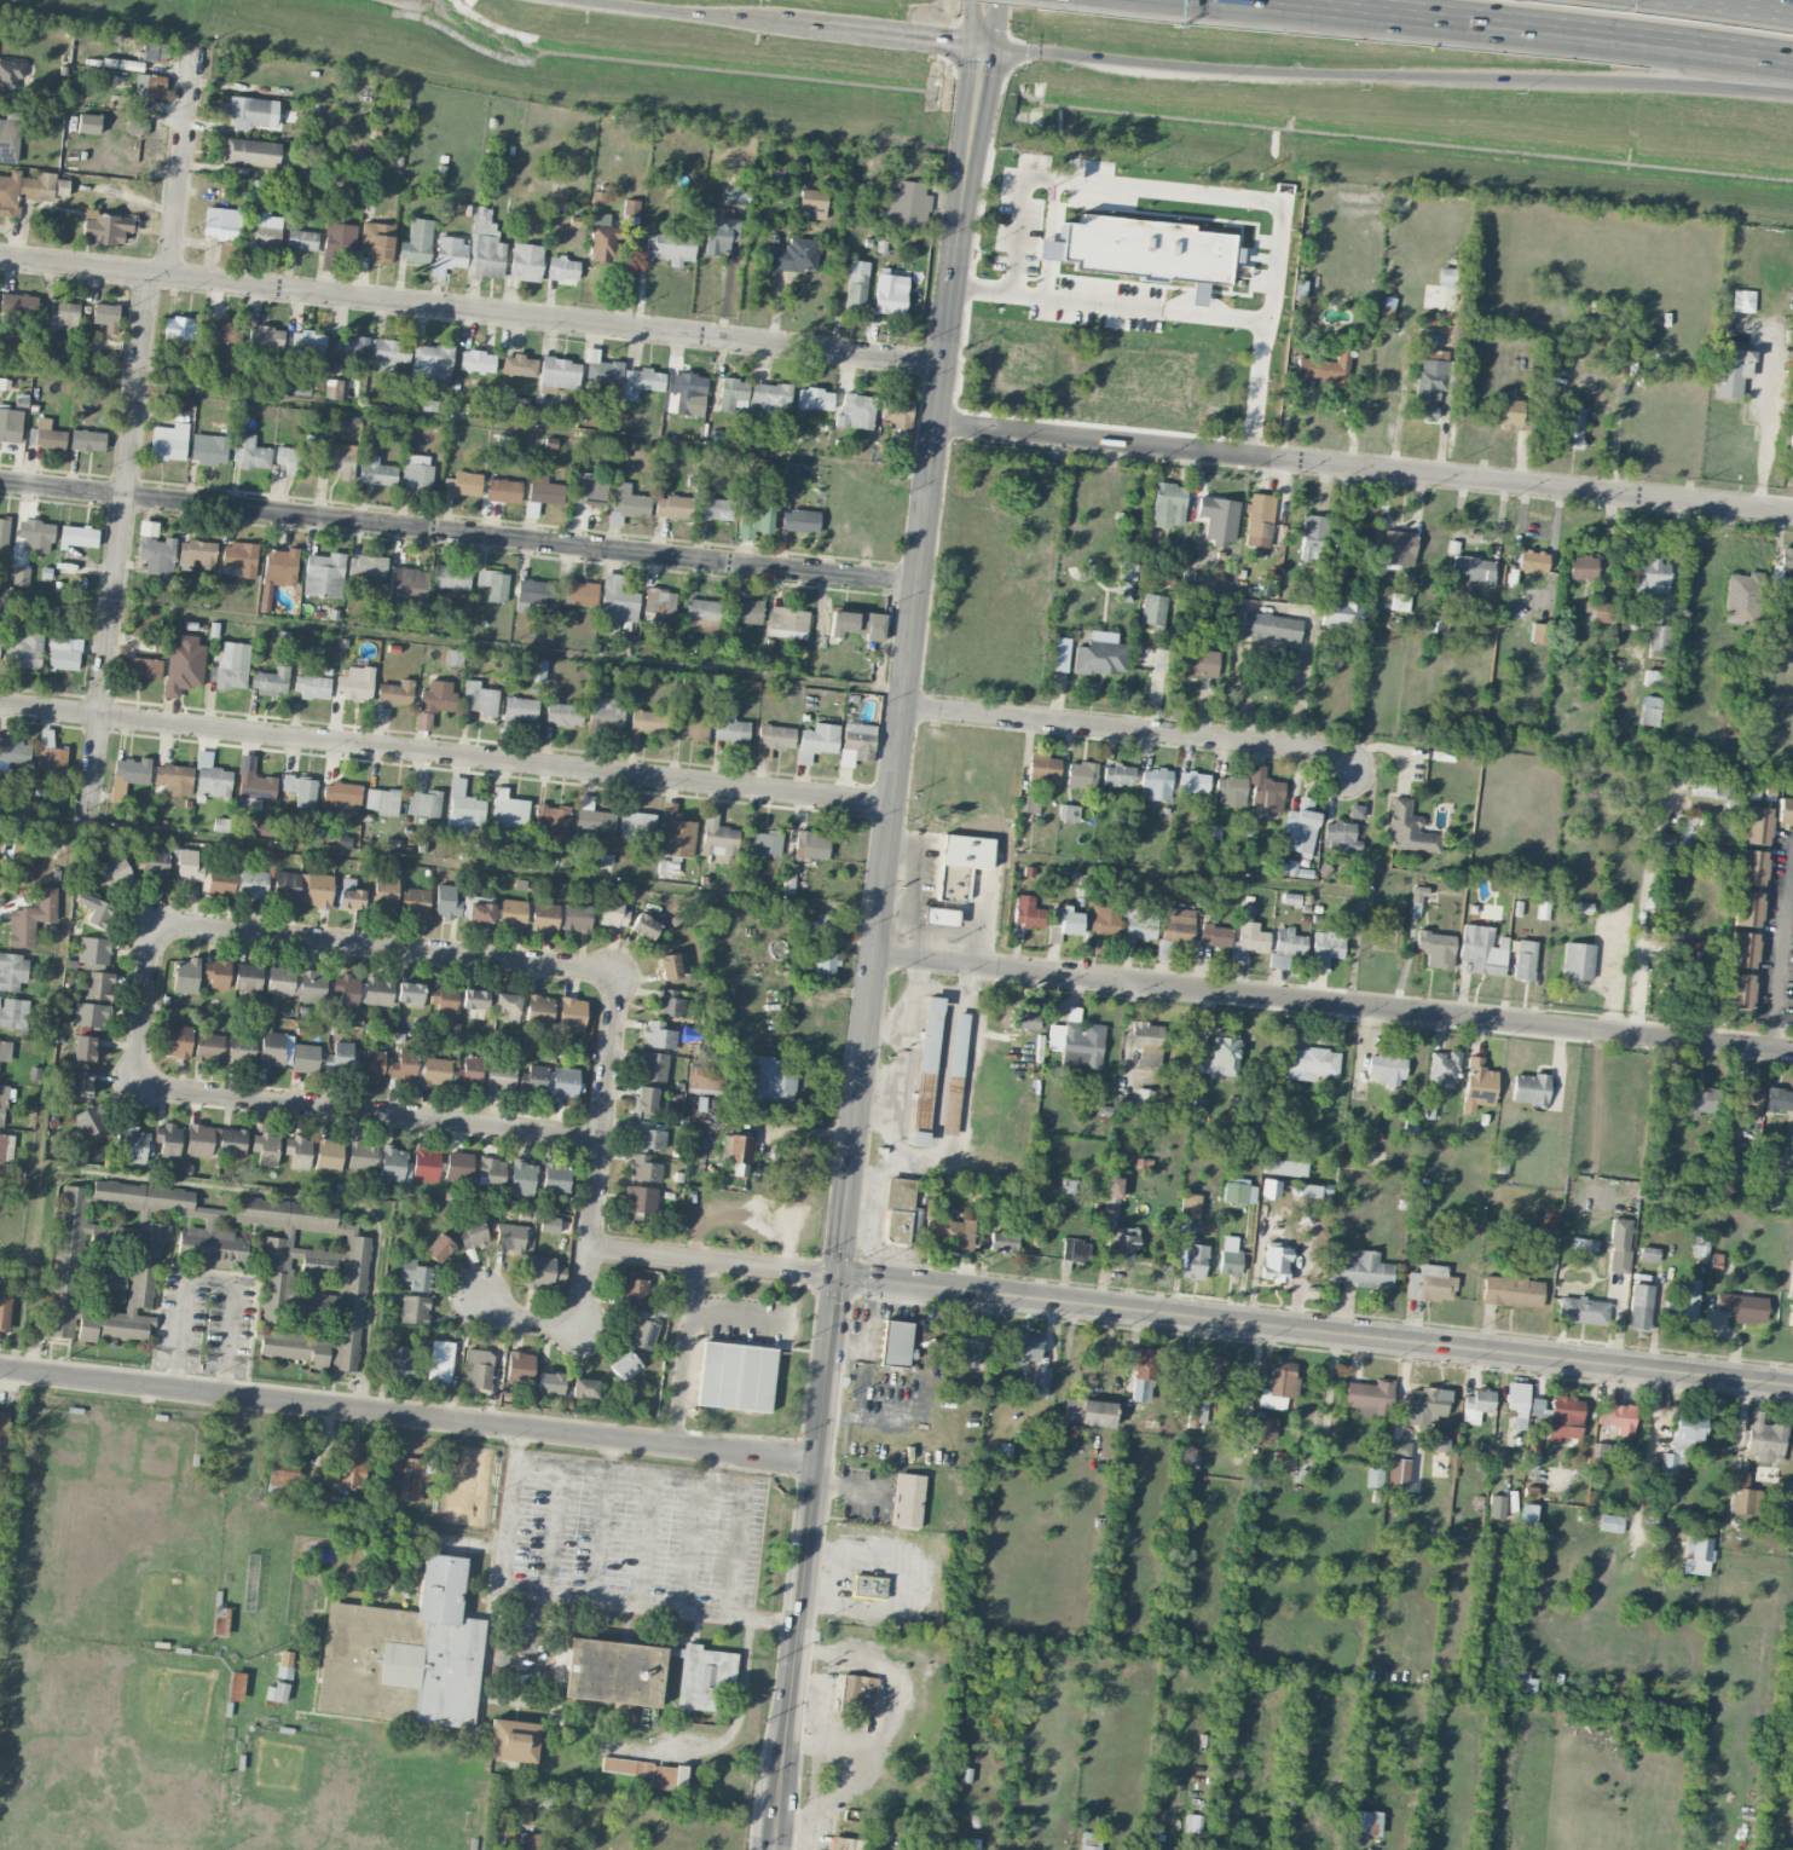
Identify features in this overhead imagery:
road: (1753, 5)
road: (677, 13)
road: (1529, 23)
road: (891, 36)
traffic signals: (984, 50)
building: (156, 52)
building: (11, 73)
road: (1388, 76)
building: (150, 86)
building: (249, 112)
building: (88, 123)
building: (137, 127)
building: (8, 140)
building: (250, 152)
road: (181, 163)
building: (1093, 167)
building: (1028, 177)
building: (62, 186)
building: (24, 190)
building: (736, 193)
building: (812, 204)
building: (908, 204)
building: (631, 207)
building: (221, 222)
building: (105, 227)
building: (265, 231)
building: (723, 235)
building: (301, 239)
building: (336, 239)
building: (417, 241)
building: (376, 242)
building: (601, 243)
building: (485, 247)
building: (671, 247)
building: (449, 254)
building: (792, 255)
building: (526, 261)
building: (562, 268)
building: (1446, 277)
building: (856, 285)
building: (890, 293)
building: (1742, 301)
building: (17, 303)
road: (1174, 308)
road: (472, 311)
building: (63, 314)
building: (105, 316)
building: (179, 328)
building: (222, 333)
building: (266, 336)
building: (1342, 340)
building: (308, 345)
building: (351, 348)
building: (389, 353)
building: (1430, 354)
building: (476, 360)
building: (429, 364)
building: (519, 365)
building: (601, 370)
building: (1730, 371)
building: (559, 372)
building: (177, 374)
building: (640, 382)
building: (301, 385)
building: (1428, 386)
building: (332, 389)
building: (686, 391)
building: (731, 394)
building: (815, 399)
building: (183, 401)
building: (769, 401)
building: (519, 405)
building: (856, 411)
building: (896, 411)
building: (1508, 411)
building: (10, 424)
building: (1572, 427)
road: (1765, 432)
building: (46, 434)
building: (87, 440)
building: (168, 440)
building: (209, 449)
building: (1791, 452)
building: (250, 453)
building: (337, 458)
building: (294, 461)
road: (1365, 469)
building: (376, 472)
building: (416, 473)
building: (465, 484)
building: (503, 490)
building: (544, 490)
building: (589, 490)
building: (627, 503)
building: (1168, 504)
building: (672, 507)
building: (712, 509)
building: (1217, 519)
building: (754, 520)
building: (799, 520)
building: (1260, 520)
building: (4, 532)
road: (459, 533)
building: (35, 536)
building: (79, 536)
building: (1313, 536)
building: (1398, 548)
building: (155, 550)
road: (117, 553)
building: (197, 553)
building: (239, 557)
building: (1786, 560)
building: (1532, 561)
building: (368, 566)
building: (1581, 567)
building: (1474, 570)
building: (277, 572)
building: (324, 574)
building: (21, 576)
building: (451, 577)
building: (1649, 577)
building: (1127, 582)
building: (407, 584)
building: (493, 584)
building: (533, 591)
building: (578, 592)
building: (1741, 597)
building: (617, 602)
building: (1399, 602)
building: (659, 605)
building: (1153, 608)
building: (745, 611)
building: (1597, 611)
building: (1340, 613)
building: (702, 615)
building: (788, 622)
building: (856, 623)
building: (1271, 626)
building: (1658, 641)
building: (24, 648)
building: (64, 653)
building: (1060, 654)
building: (1100, 658)
building: (1195, 660)
building: (184, 665)
building: (231, 666)
building: (143, 667)
building: (270, 681)
building: (354, 682)
building: (312, 687)
building: (394, 693)
building: (438, 696)
building: (479, 698)
building: (520, 709)
building: (1649, 711)
building: (606, 713)
building: (563, 715)
building: (423, 721)
building: (692, 722)
building: (646, 724)
building: (730, 729)
road: (1133, 732)
building: (773, 740)
building: (816, 741)
building: (856, 742)
building: (13, 752)
road: (447, 755)
building: (50, 756)
building: (1042, 770)
building: (129, 774)
building: (1081, 774)
building: (1118, 775)
building: (174, 779)
building: (254, 781)
building: (1193, 782)
building: (1156, 784)
building: (1702, 786)
building: (1723, 788)
building: (301, 790)
building: (1231, 791)
building: (1265, 791)
building: (341, 797)
building: (382, 802)
building: (423, 803)
building: (1029, 804)
building: (463, 808)
building: (507, 810)
building: (1355, 811)
building: (1785, 811)
building: (1068, 813)
building: (554, 819)
building: (592, 821)
building: (221, 825)
building: (636, 825)
building: (1756, 825)
building: (1300, 826)
building: (1409, 829)
building: (676, 832)
building: (1340, 836)
building: (718, 837)
building: (1690, 837)
building: (763, 843)
building: (810, 845)
building: (152, 862)
building: (960, 863)
building: (186, 865)
building: (1751, 867)
building: (110, 871)
building: (251, 883)
building: (302, 888)
building: (384, 890)
building: (349, 898)
building: (1417, 898)
building: (413, 902)
building: (446, 902)
building: (1581, 907)
building: (94, 908)
building: (1746, 908)
building: (480, 912)
building: (511, 912)
building: (613, 912)
building: (1026, 912)
road: (1644, 914)
building: (938, 915)
building: (544, 917)
building: (31, 918)
building: (576, 918)
building: (1103, 919)
road: (880, 924)
building: (1064, 924)
building: (827, 925)
building: (1178, 925)
building: (643, 926)
building: (1139, 927)
building: (1215, 935)
road: (1785, 936)
building: (1249, 938)
building: (1285, 947)
road: (387, 948)
building: (1325, 948)
building: (1435, 948)
building: (1482, 949)
building: (1741, 949)
building: (1523, 959)
building: (1577, 961)
building: (825, 962)
building: (669, 966)
building: (96, 967)
road: (1613, 969)
building: (12, 971)
building: (216, 973)
building: (185, 975)
building: (248, 977)
building: (280, 979)
building: (312, 985)
building: (1697, 985)
building: (363, 990)
building: (1737, 990)
building: (409, 992)
building: (443, 998)
building: (474, 999)
building: (670, 1004)
road: (1334, 1004)
road: (143, 1005)
building: (507, 1006)
building: (538, 1010)
building: (13, 1013)
building: (571, 1013)
building: (91, 1014)
building: (1024, 1019)
road: (1774, 1030)
building: (659, 1035)
building: (177, 1041)
building: (1146, 1042)
building: (1077, 1043)
building: (83, 1047)
building: (209, 1047)
building: (242, 1048)
building: (272, 1048)
building: (5, 1050)
building: (1219, 1056)
building: (305, 1058)
building: (339, 1058)
building: (1312, 1064)
building: (386, 1065)
building: (653, 1066)
building: (1444, 1066)
building: (1387, 1069)
building: (925, 1070)
building: (434, 1071)
building: (468, 1073)
building: (954, 1073)
building: (499, 1077)
building: (533, 1077)
building: (706, 1080)
building: (771, 1081)
building: (80, 1082)
building: (563, 1083)
building: (1477, 1085)
building: (1529, 1088)
building: (1749, 1098)
building: (644, 1099)
building: (1778, 1099)
building: (1696, 1100)
building: (2, 1104)
road: (369, 1112)
building: (88, 1121)
building: (647, 1135)
building: (168, 1139)
building: (202, 1140)
building: (231, 1141)
building: (134, 1145)
building: (266, 1147)
building: (5, 1149)
building: (297, 1151)
road: (601, 1152)
building: (735, 1152)
building: (328, 1155)
building: (363, 1155)
building: (394, 1164)
building: (426, 1164)
building: (461, 1164)
building: (644, 1168)
building: (1289, 1168)
building: (491, 1172)
building: (521, 1178)
building: (555, 1179)
road: (213, 1186)
building: (1112, 1186)
building: (1269, 1189)
building: (1239, 1191)
building: (640, 1198)
building: (1190, 1206)
building: (1792, 1209)
building: (901, 1212)
building: (1550, 1214)
building: (549, 1224)
building: (945, 1228)
building: (473, 1233)
building: (1118, 1235)
building: (509, 1237)
building: (1002, 1242)
building: (1584, 1244)
building: (1619, 1245)
building: (438, 1248)
building: (1075, 1250)
building: (1648, 1254)
road: (715, 1259)
building: (1193, 1261)
building: (1230, 1262)
building: (1274, 1262)
building: (1360, 1270)
building: (543, 1272)
building: (313, 1273)
traffic signals: (840, 1273)
building: (416, 1274)
road: (210, 1277)
building: (1791, 1280)
building: (1430, 1283)
building: (634, 1290)
building: (1511, 1290)
building: (1684, 1297)
building: (1638, 1306)
building: (1741, 1307)
building: (5, 1308)
building: (415, 1310)
building: (1583, 1311)
road: (739, 1314)
building: (1792, 1316)
road: (527, 1324)
road: (1315, 1329)
building: (641, 1334)
building: (896, 1343)
building: (966, 1346)
building: (1026, 1348)
road: (684, 1352)
building: (440, 1362)
building: (399, 1363)
building: (623, 1366)
building: (476, 1368)
building: (520, 1368)
building: (1211, 1371)
building: (1141, 1372)
building: (735, 1376)
building: (1040, 1381)
building: (549, 1383)
building: (1278, 1386)
building: (584, 1388)
building: (1369, 1398)
building: (1516, 1403)
building: (1427, 1404)
building: (1476, 1405)
building: (1535, 1406)
building: (1197, 1411)
building: (1088, 1412)
road: (409, 1415)
building: (1564, 1418)
building: (1618, 1418)
building: (1265, 1429)
building: (4, 1430)
building: (1764, 1439)
building: (1440, 1443)
building: (1681, 1445)
road: (608, 1452)
building: (1598, 1453)
building: (1283, 1459)
road: (712, 1464)
building: (1398, 1464)
building: (351, 1465)
building: (283, 1475)
building: (1373, 1476)
road: (695, 1478)
building: (404, 1479)
building: (1743, 1496)
building: (907, 1501)
building: (1496, 1507)
building: (1781, 1508)
building: (1527, 1511)
road: (600, 1533)
building: (1697, 1554)
road: (904, 1580)
building: (867, 1586)
building: (307, 1595)
road: (573, 1597)
building: (220, 1621)
building: (404, 1653)
building: (284, 1664)
building: (644, 1672)
building: (236, 1686)
building: (276, 1692)
building: (857, 1693)
road: (891, 1704)
building: (511, 1739)
building: (650, 1773)
building: (1365, 1822)
building: (520, 1839)
building: (1091, 1840)
building: (845, 1843)

